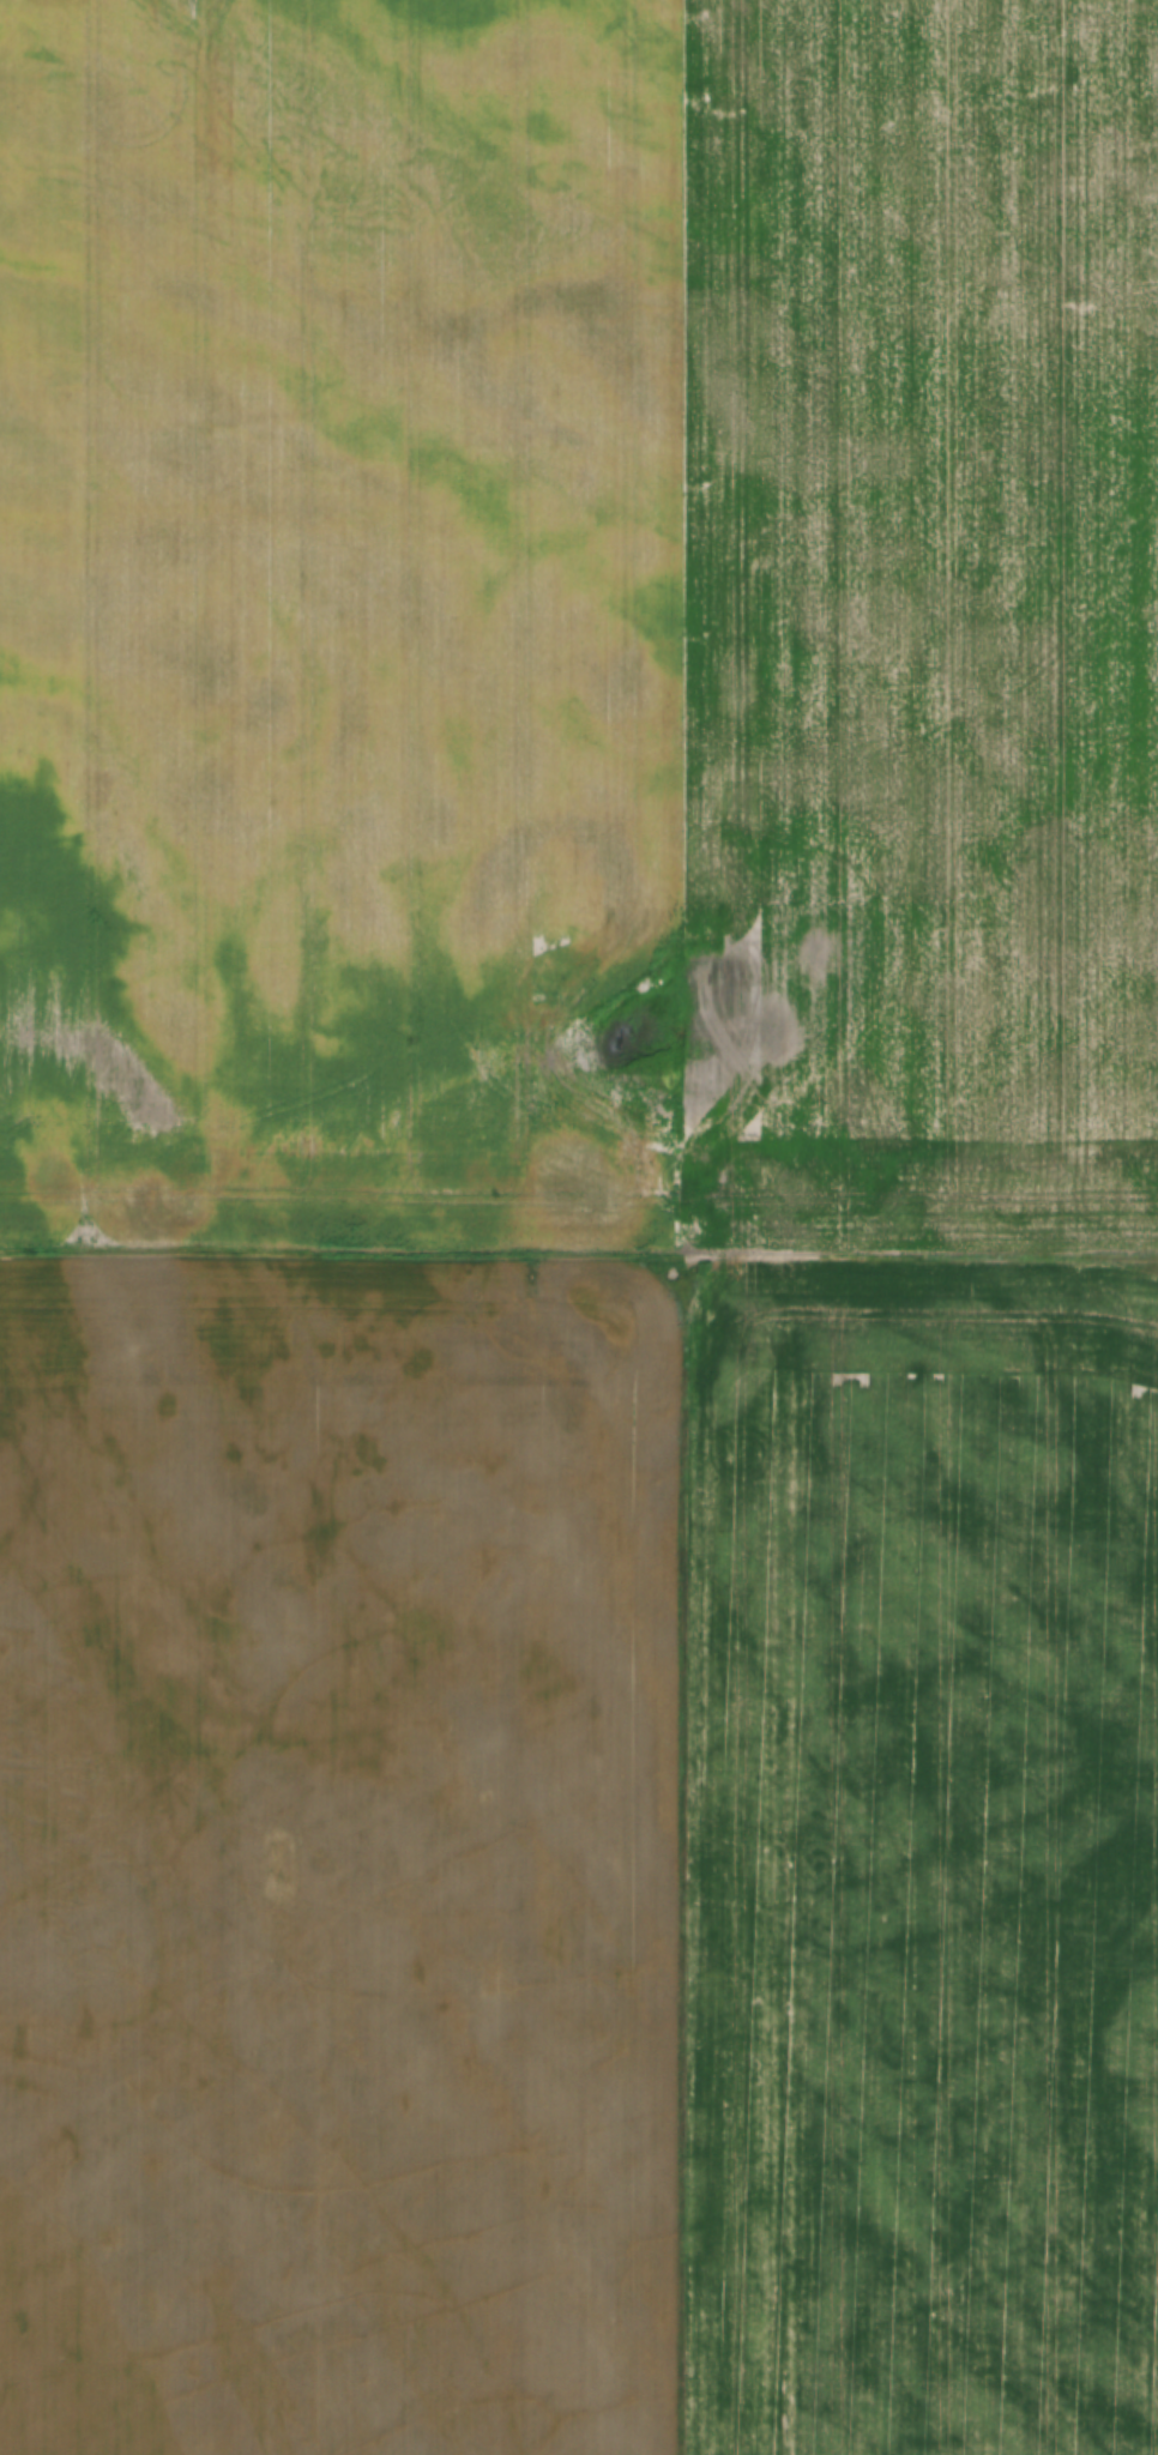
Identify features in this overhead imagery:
road: (578, 1251)

